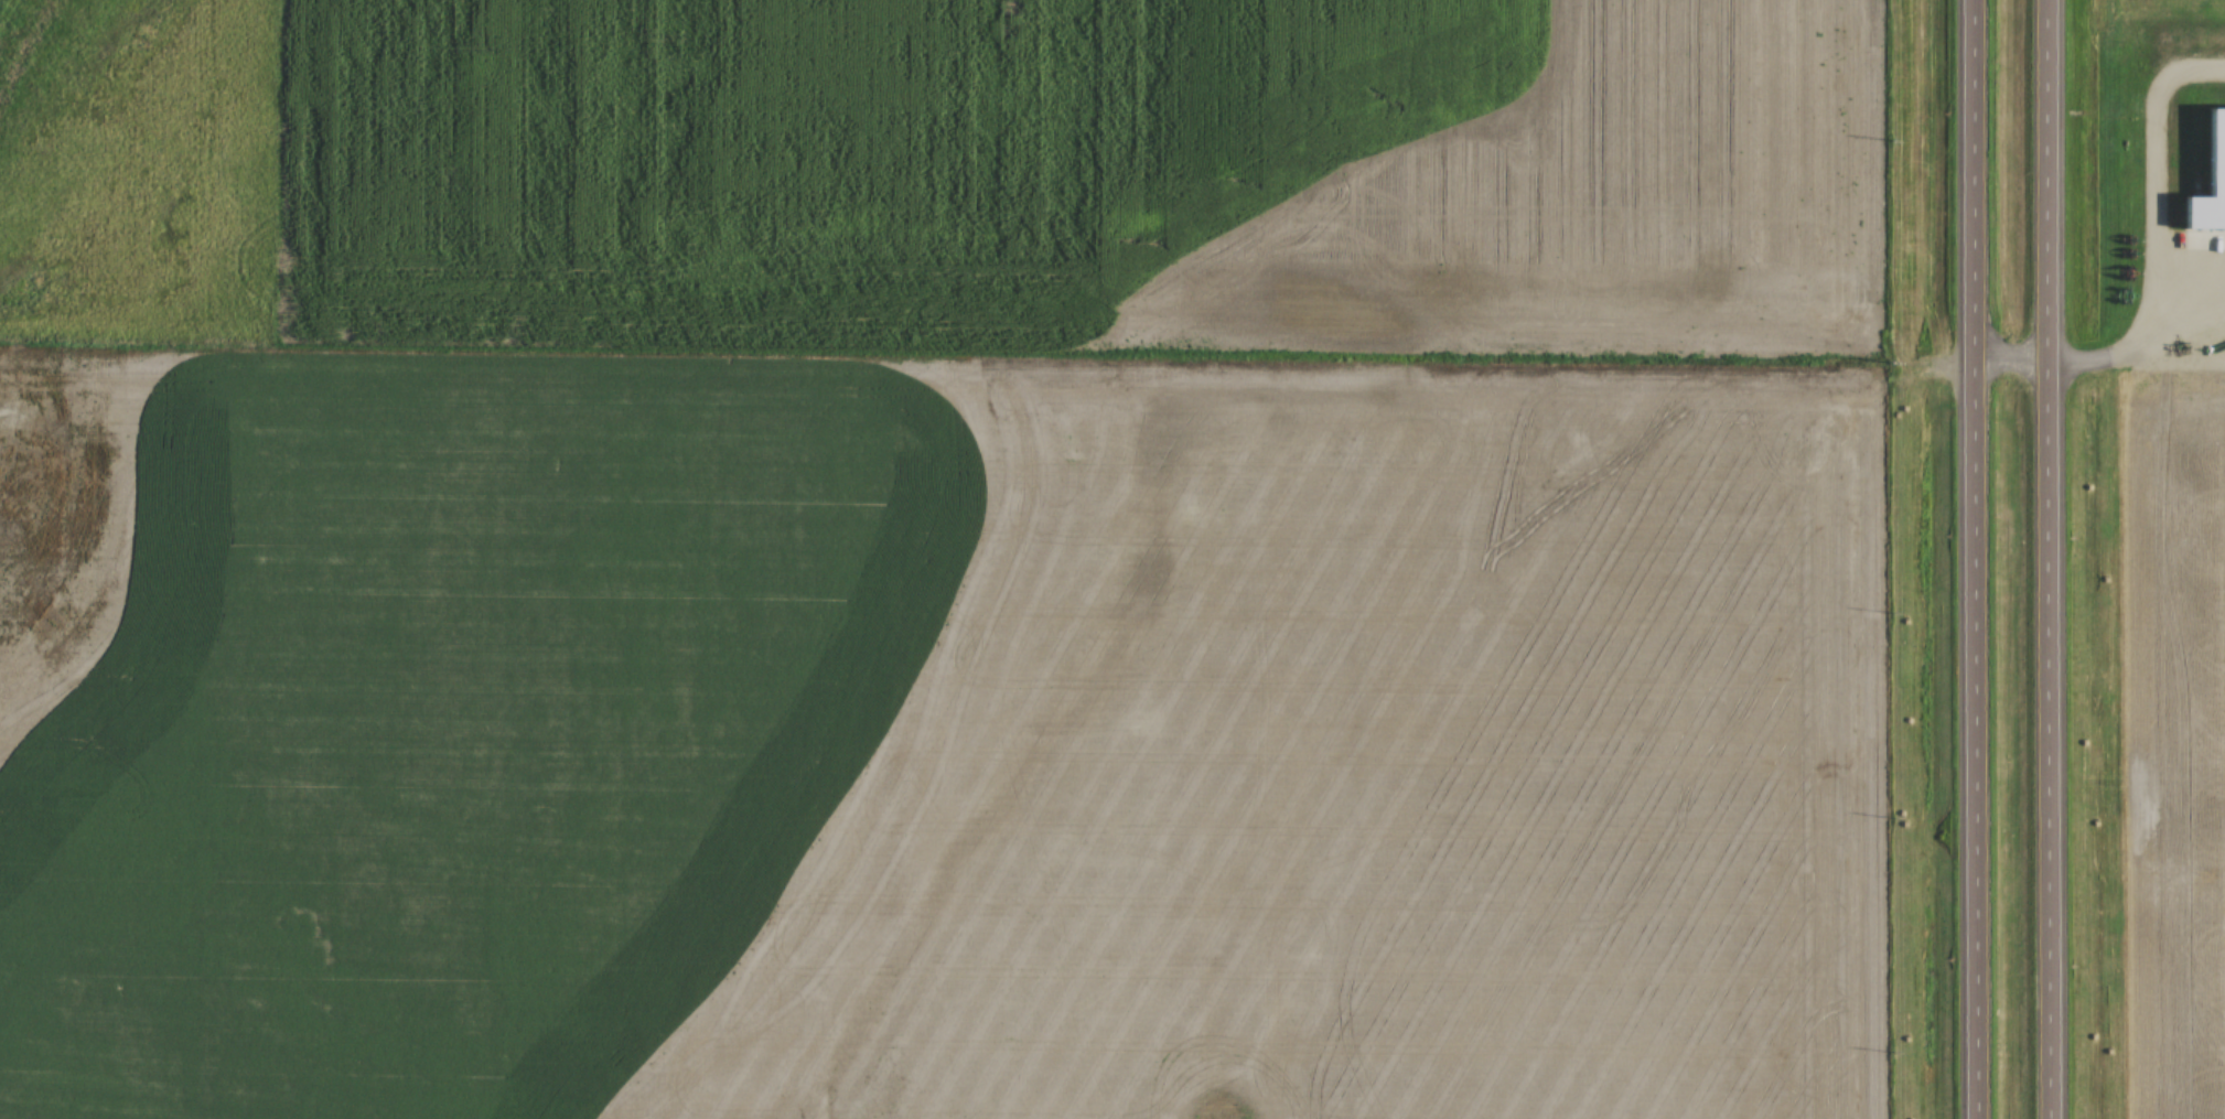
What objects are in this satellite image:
building: (2204, 157)
road: (1970, 559)
road: (2046, 559)

